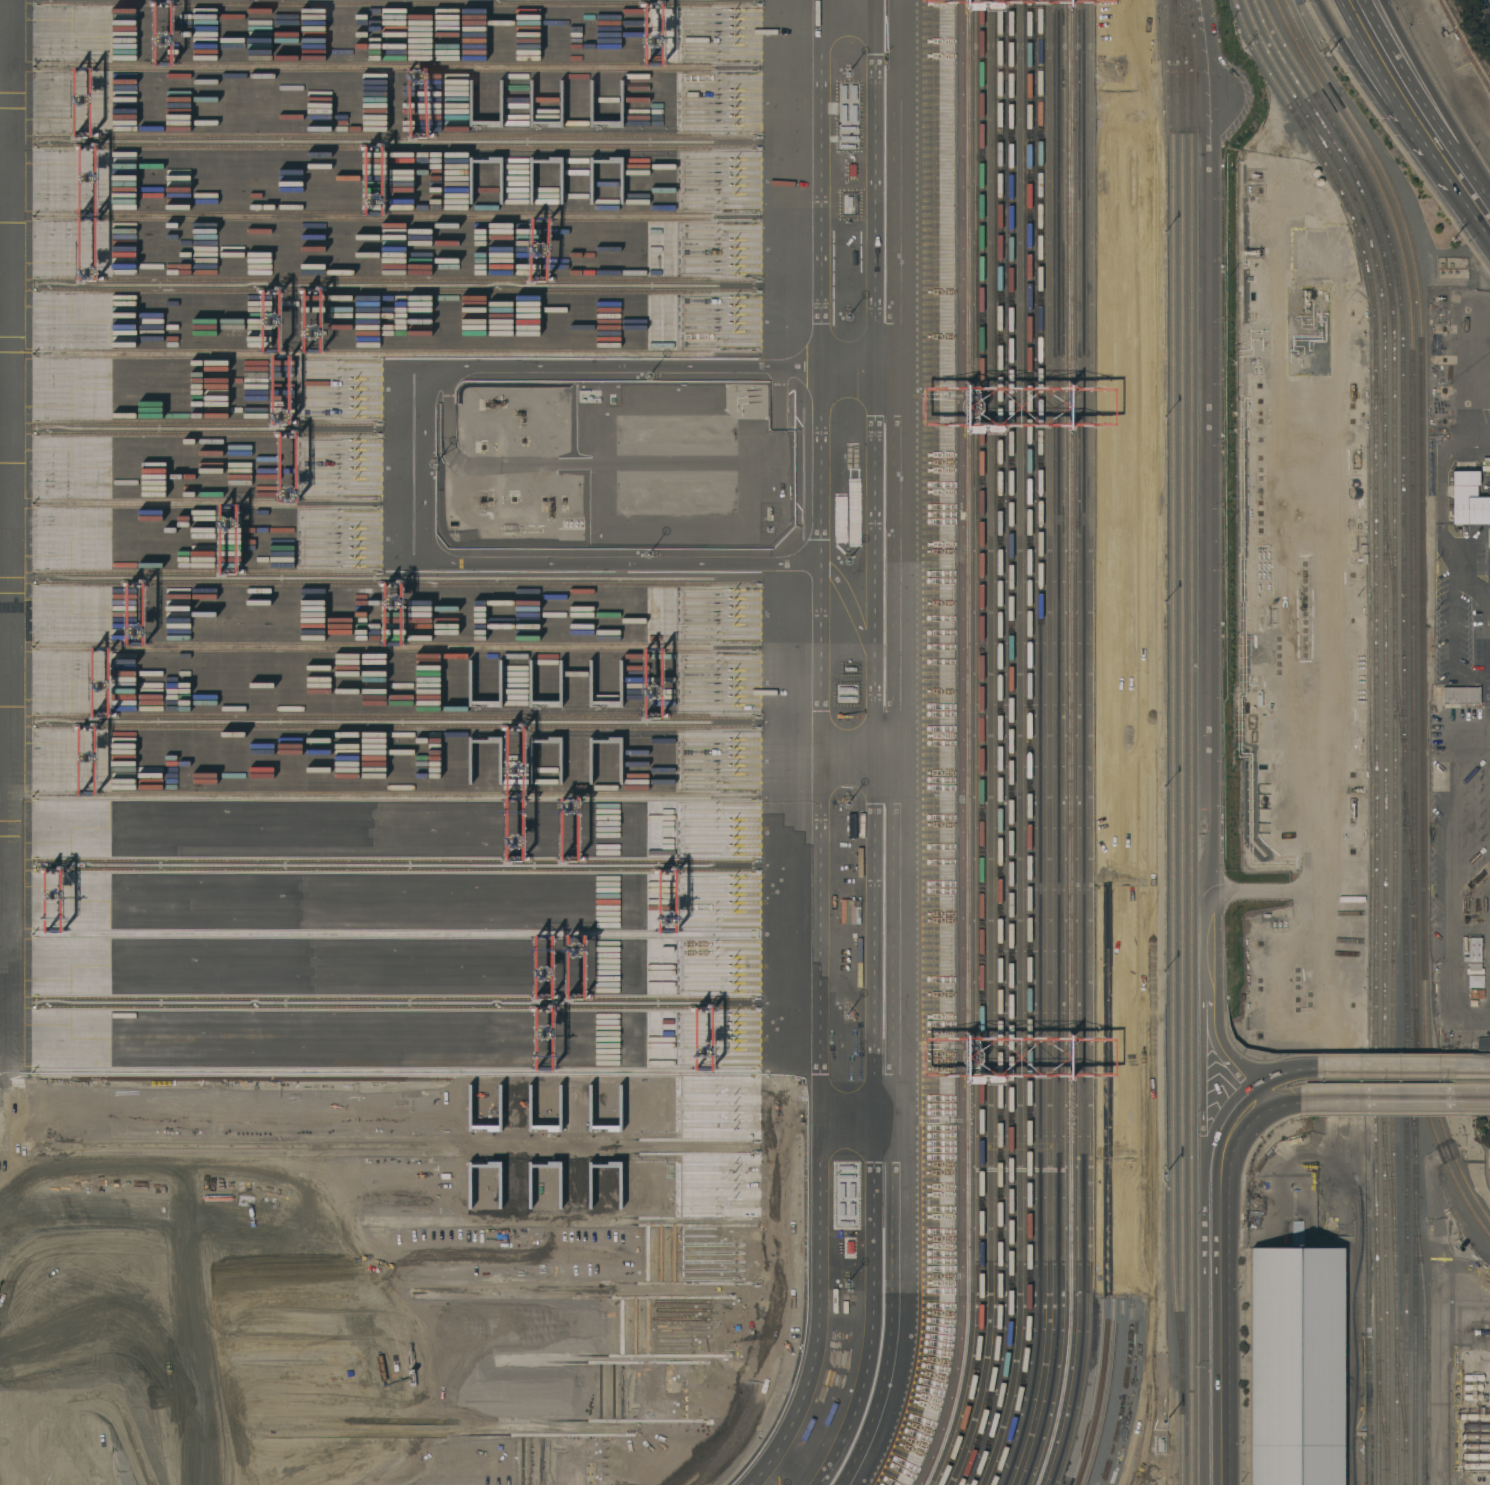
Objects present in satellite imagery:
road: (847, 5)
road: (1386, 63)
road: (1361, 69)
road: (1435, 94)
road: (1447, 159)
road: (1481, 206)
road: (860, 368)
road: (899, 396)
railway: (1382, 397)
railway: (1201, 411)
road: (424, 463)
railway: (1414, 487)
building: (1468, 499)
railway: (1392, 553)
railway: (1424, 598)
road: (845, 603)
road: (1212, 623)
railway: (979, 629)
railway: (998, 629)
railway: (1009, 629)
railway: (1027, 629)
railway: (1039, 629)
railway: (1056, 629)
railway: (1081, 629)
railway: (1170, 688)
building: (1461, 695)
railway: (1402, 710)
railway: (1123, 711)
railway: (1149, 712)
railway: (1140, 714)
railway: (1378, 725)
railway: (1387, 725)
railway: (1397, 725)
railway: (1406, 725)
building: (1268, 732)
road: (1472, 737)
railway: (1180, 742)
railway: (1191, 742)
railway: (1131, 752)
road: (846, 766)
road: (1452, 831)
railway: (1411, 849)
building: (1475, 949)
road: (846, 955)
road: (1452, 989)
building: (1476, 993)
building: (1484, 1043)
road: (1395, 1067)
road: (1481, 1068)
road: (1279, 1071)
road: (1399, 1096)
road: (1282, 1097)
railway: (1436, 1126)
building: (1489, 1151)
railway: (1392, 1178)
building: (1489, 1178)
railway: (1416, 1246)
railway: (1411, 1253)
road: (1213, 1285)
railway: (1426, 1293)
building: (1297, 1366)
building: (1474, 1376)
building: (1473, 1386)
railway: (1403, 1395)
building: (1473, 1396)
railway: (1384, 1413)
building: (1474, 1416)
building: (1476, 1426)
building: (1476, 1436)
building: (1476, 1446)
building: (1476, 1456)
building: (1477, 1466)

